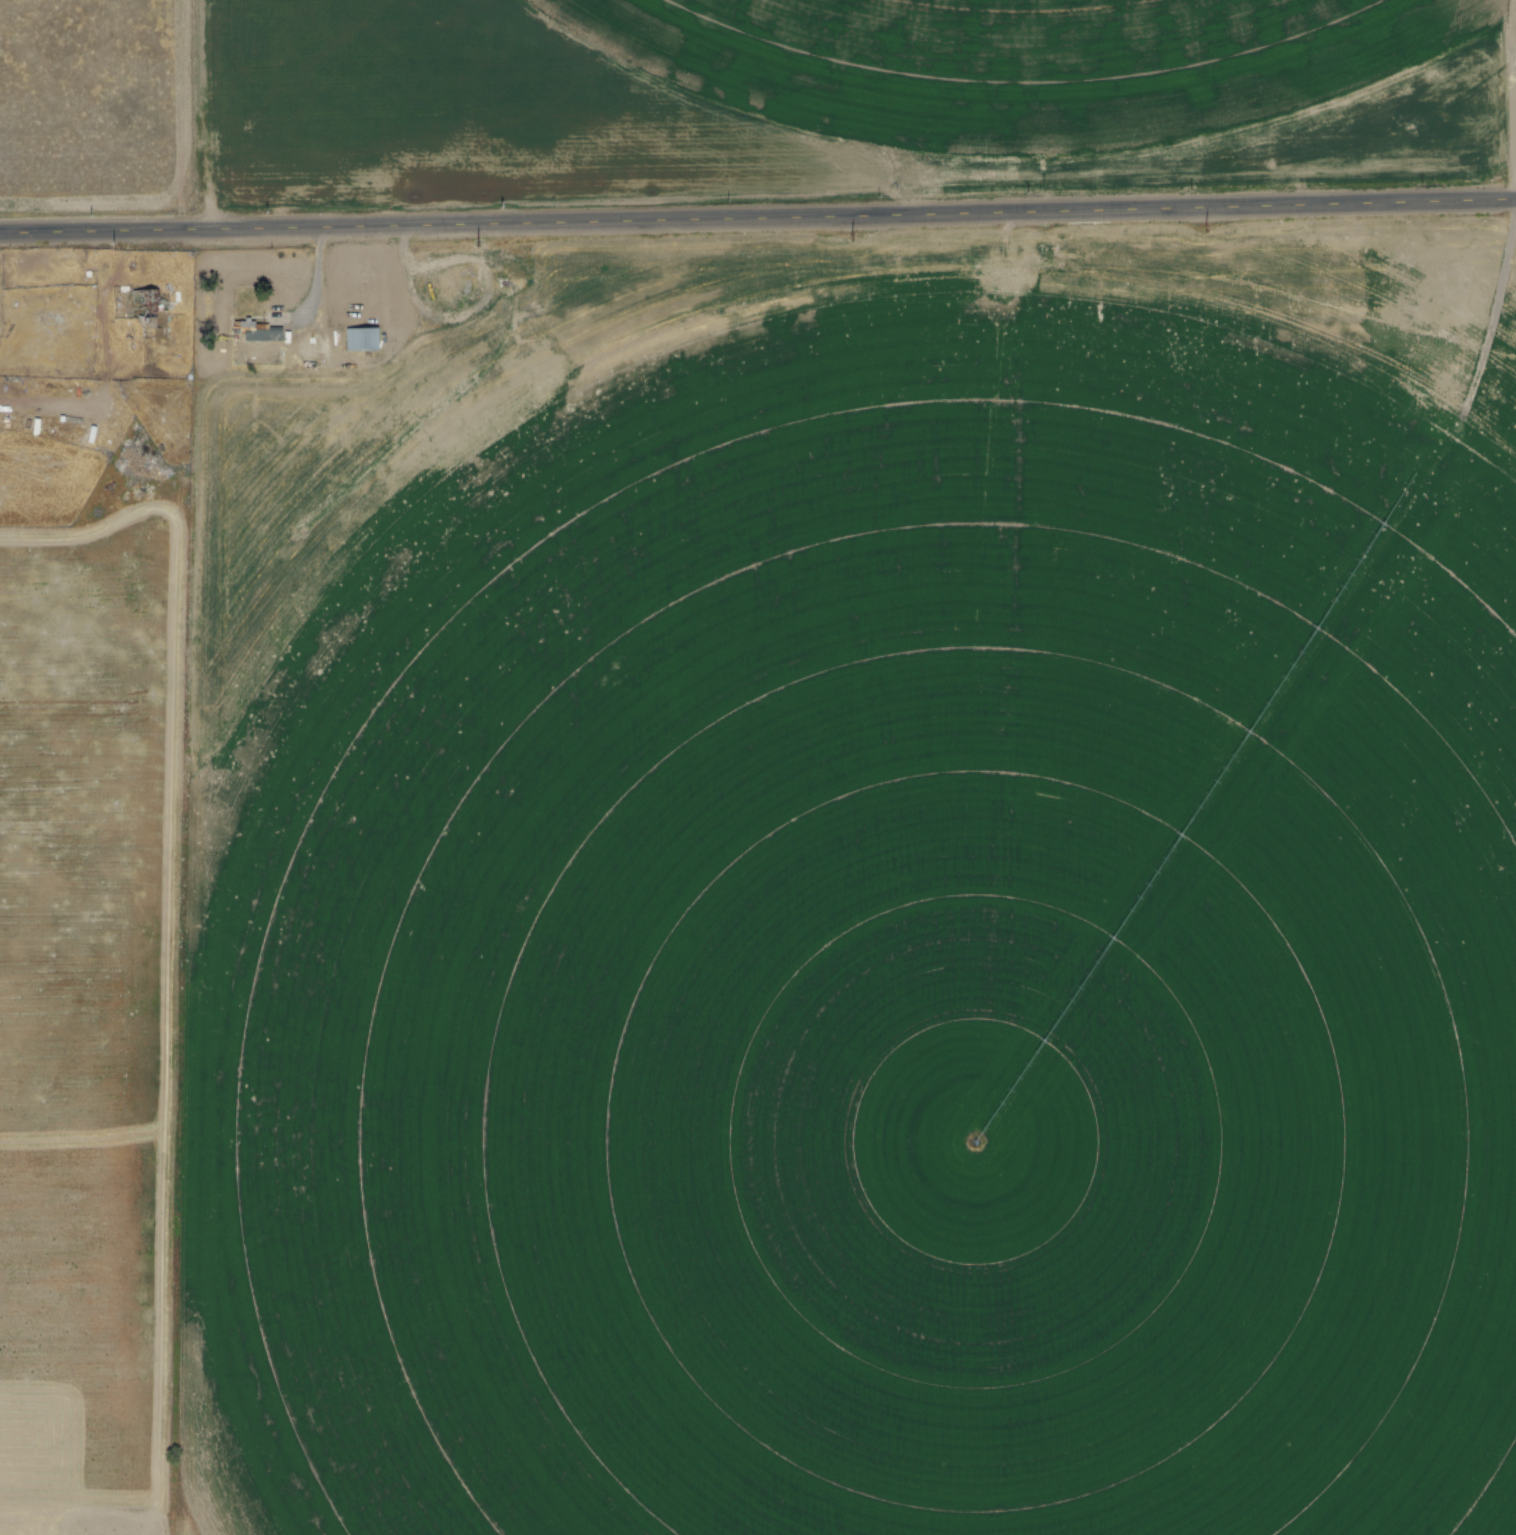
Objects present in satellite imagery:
road: (758, 214)
building: (248, 330)
building: (360, 339)

